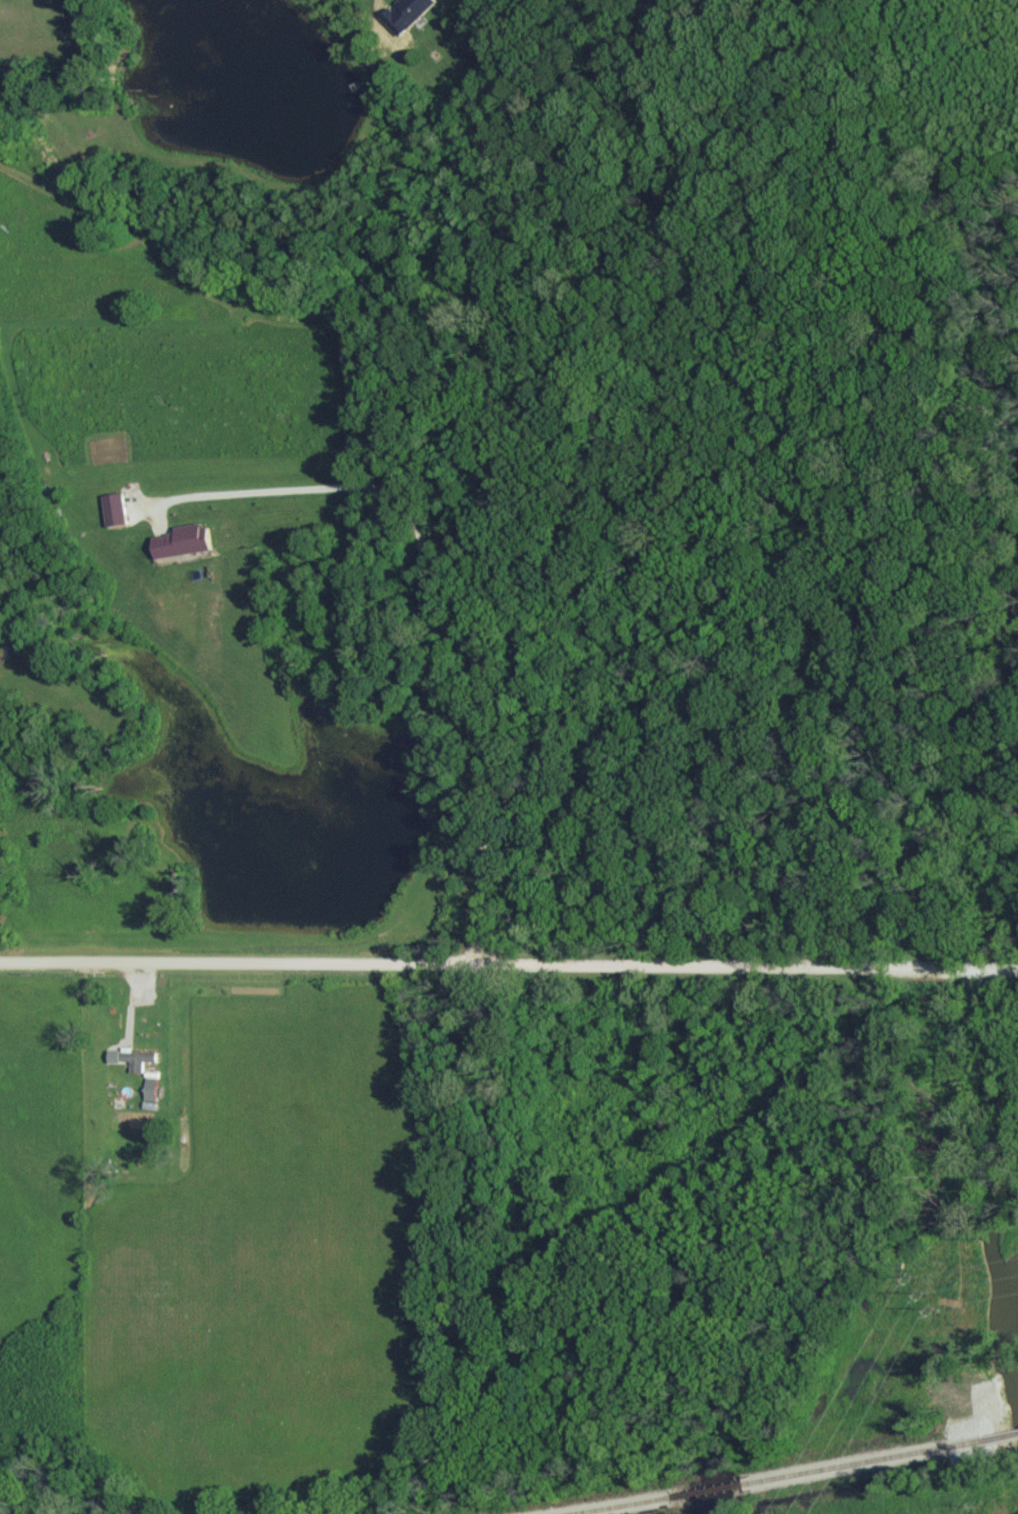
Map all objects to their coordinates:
building: (412, 9)
building: (117, 508)
building: (186, 540)
road: (427, 605)
road: (509, 960)
building: (134, 1058)
building: (151, 1088)
power tower: (932, 1291)
railway: (1002, 1437)
railway: (868, 1462)
railway: (709, 1490)
railway: (617, 1505)

